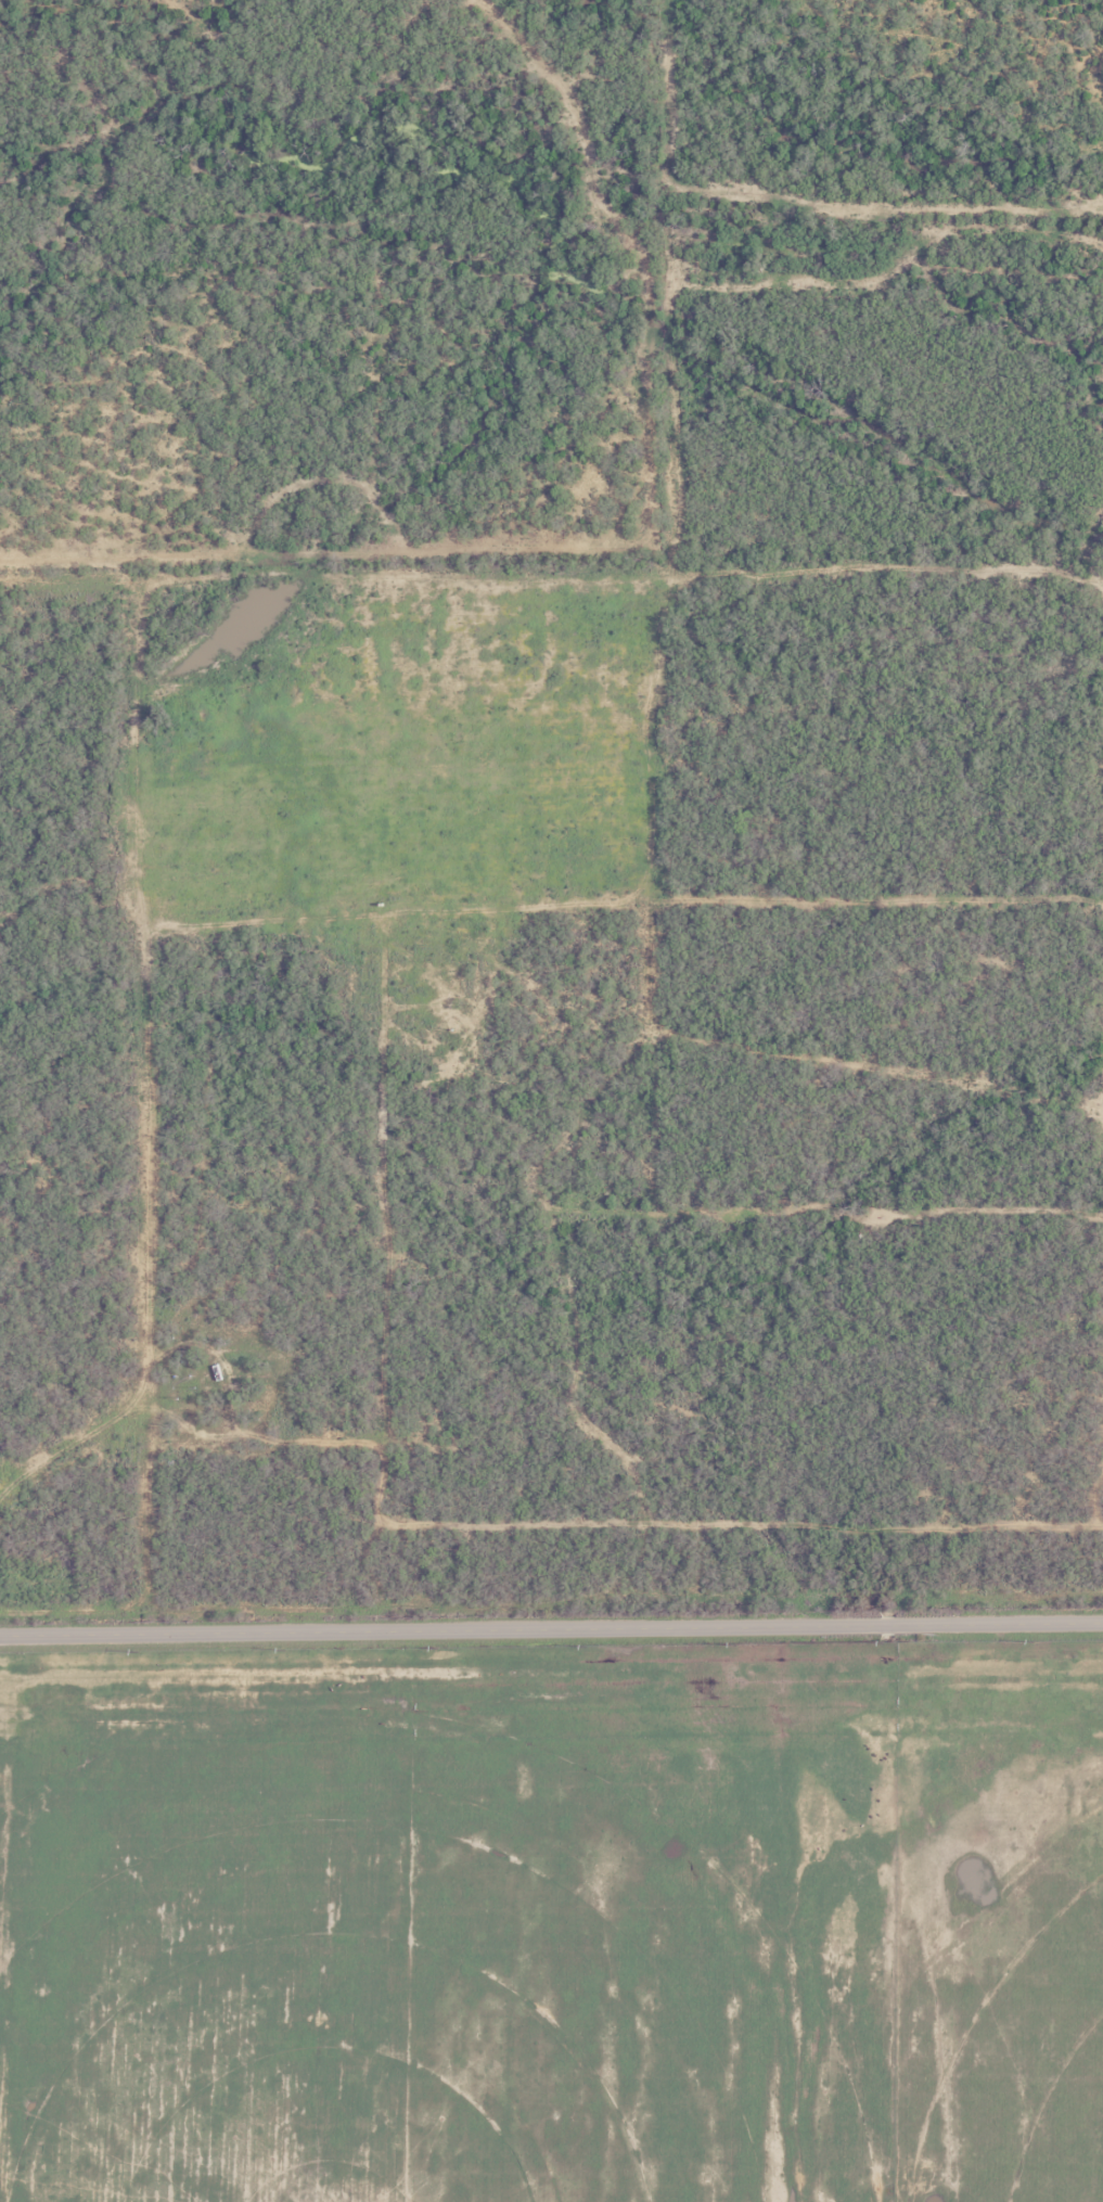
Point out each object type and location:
road: (551, 1628)

